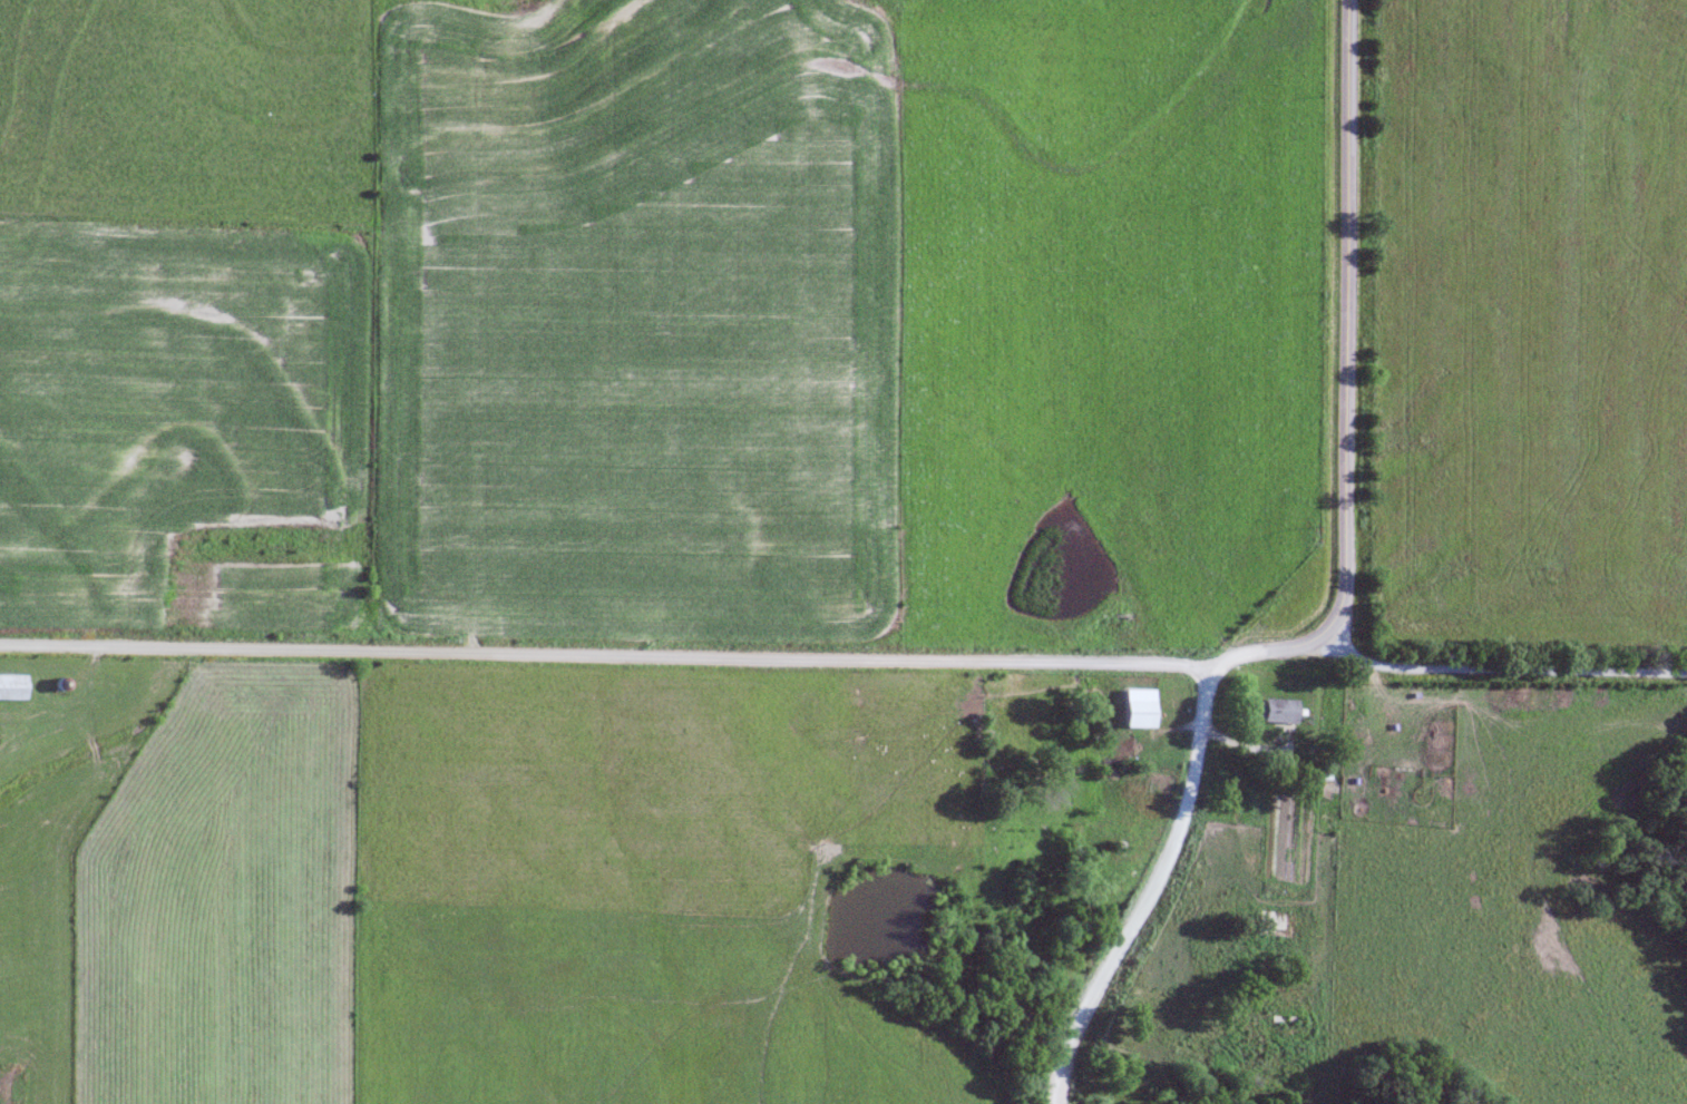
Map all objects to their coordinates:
road: (1343, 358)
road: (606, 653)
road: (1499, 668)
building: (11, 687)
building: (1275, 710)
building: (1135, 713)
road: (1152, 873)

